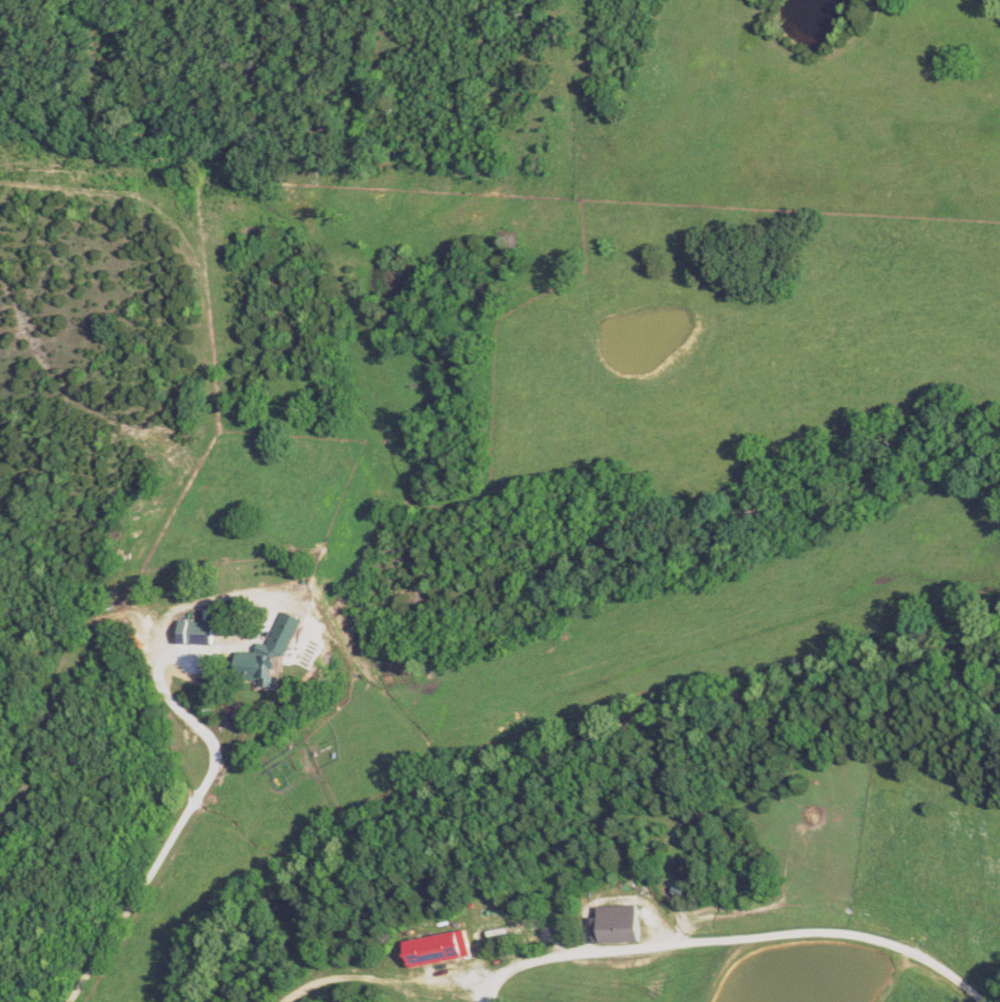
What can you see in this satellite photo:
building: (200, 632)
building: (273, 652)
road: (219, 751)
building: (620, 924)
road: (736, 938)
building: (444, 949)

